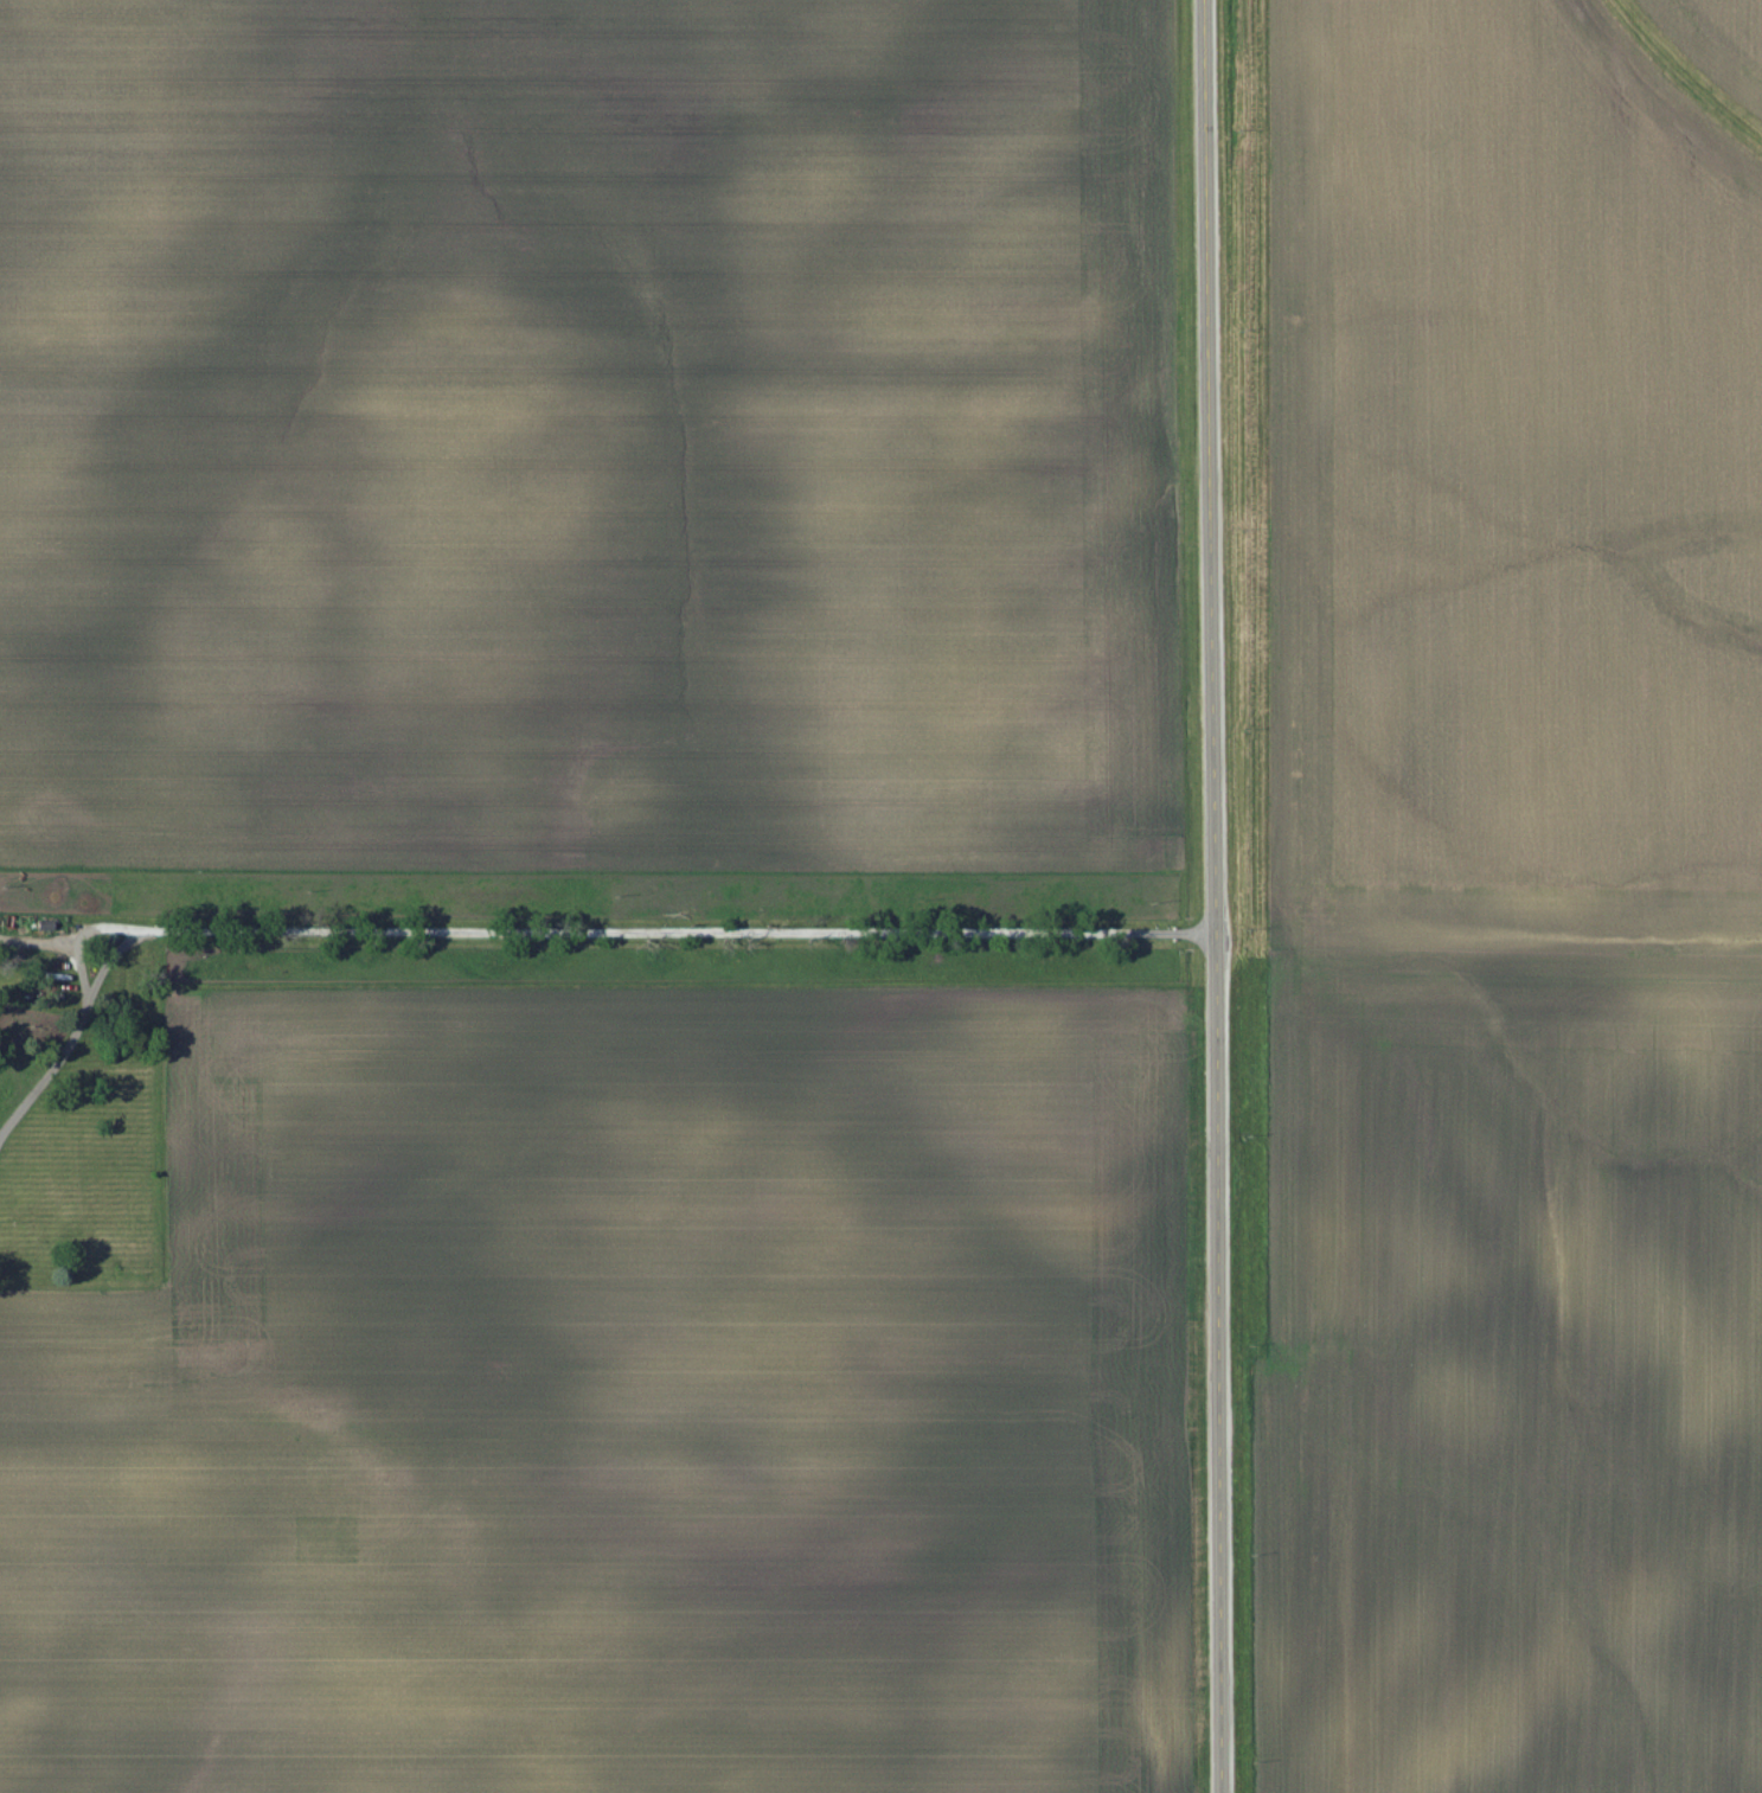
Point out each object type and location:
road: (1212, 896)
road: (643, 924)
road: (71, 1029)

